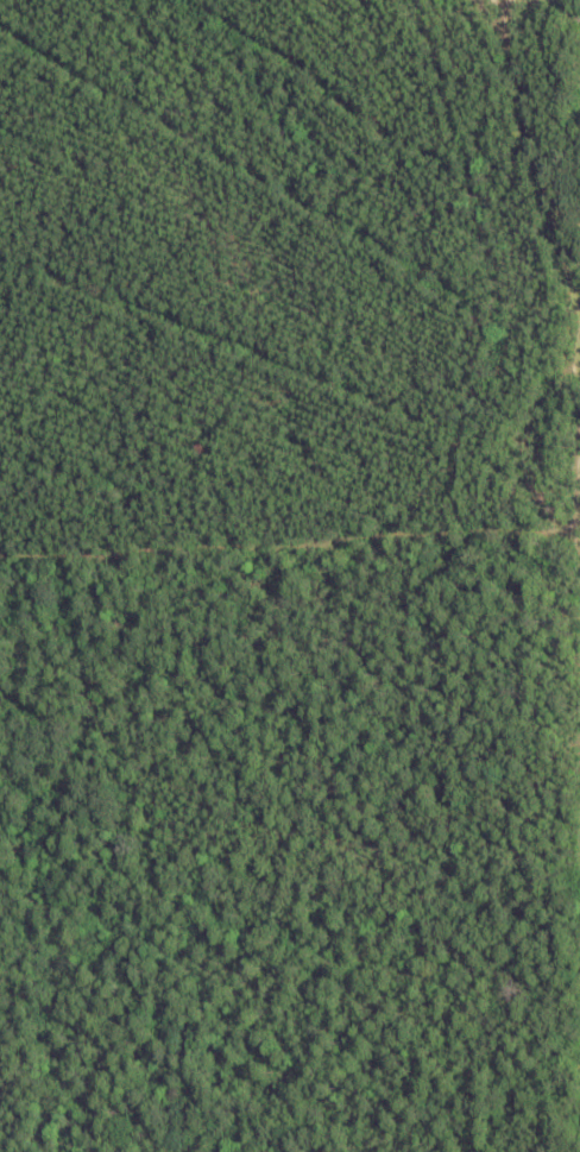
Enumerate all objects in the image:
road: (169, 13)
road: (439, 391)
road: (290, 457)

